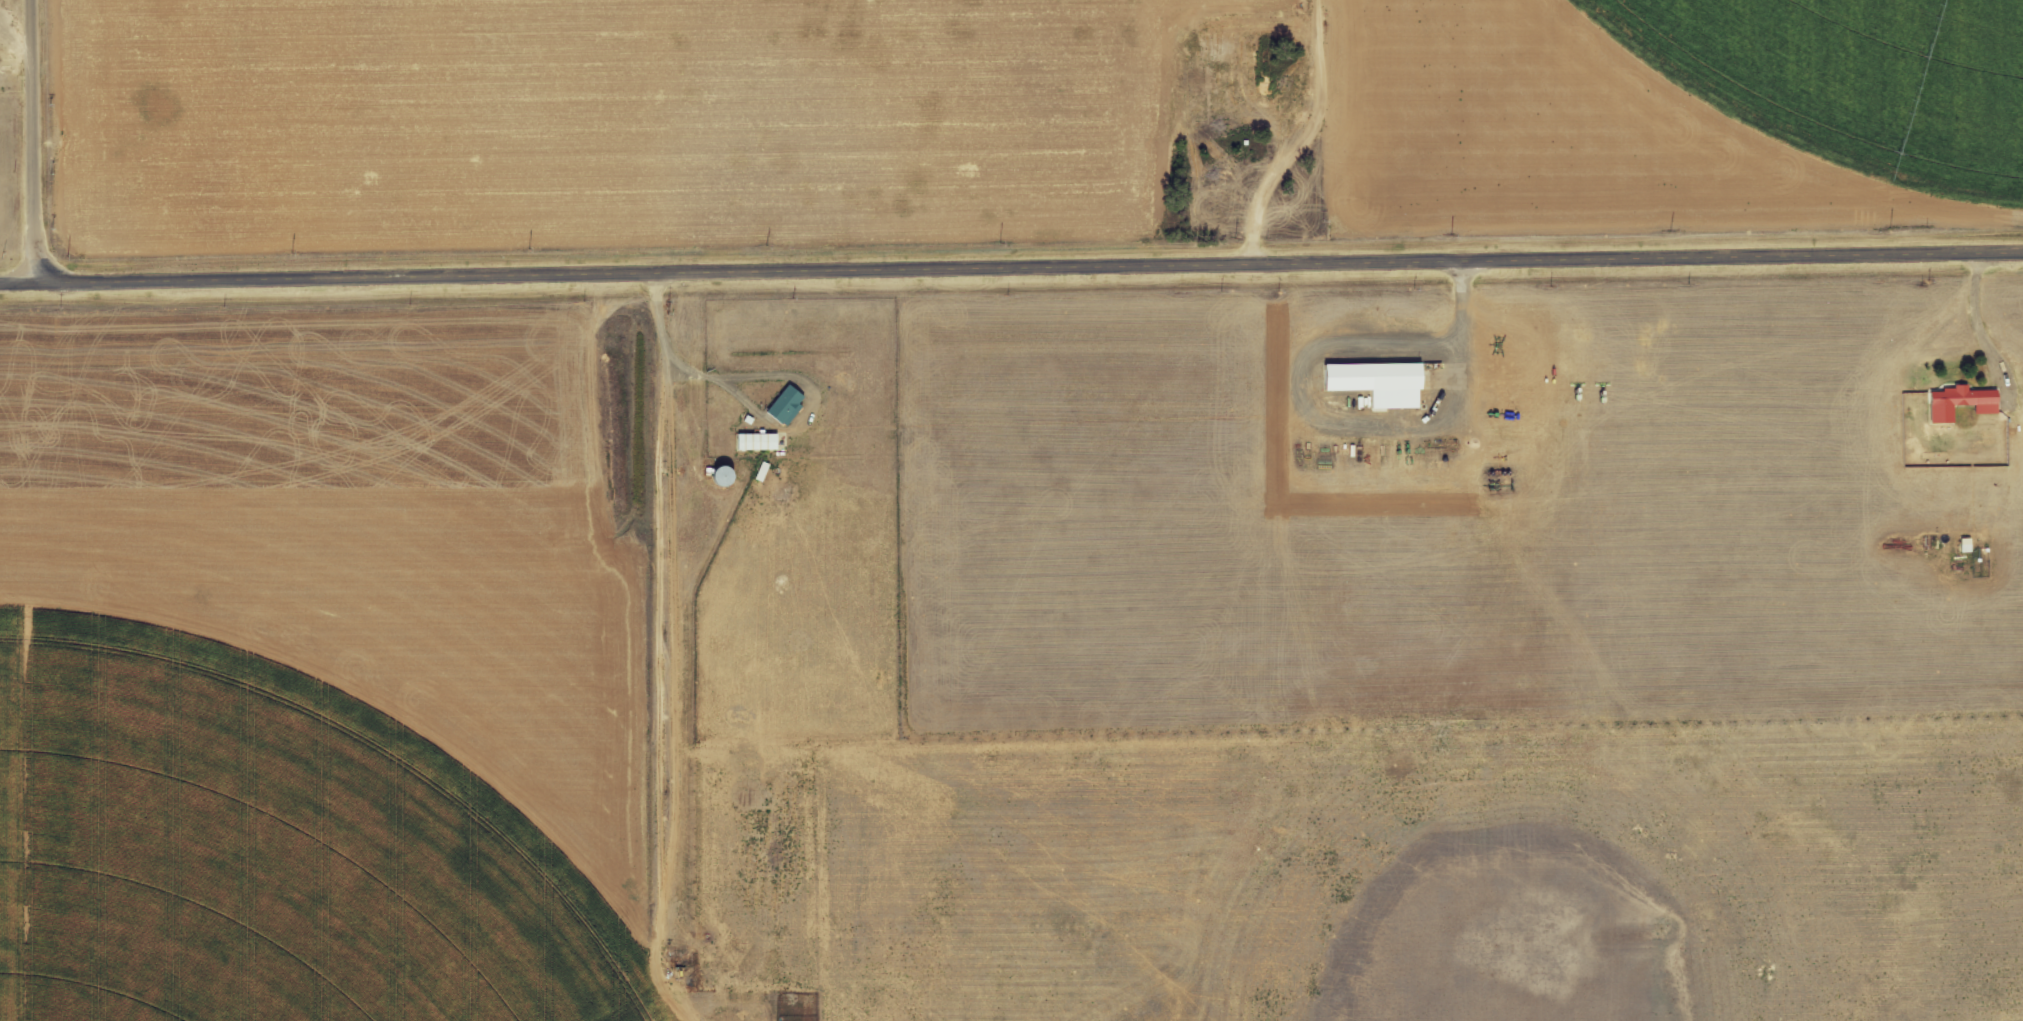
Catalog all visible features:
road: (1318, 135)
road: (31, 144)
road: (1011, 273)
building: (1382, 382)
building: (1964, 402)
building: (789, 405)
building: (759, 441)
road: (657, 648)

